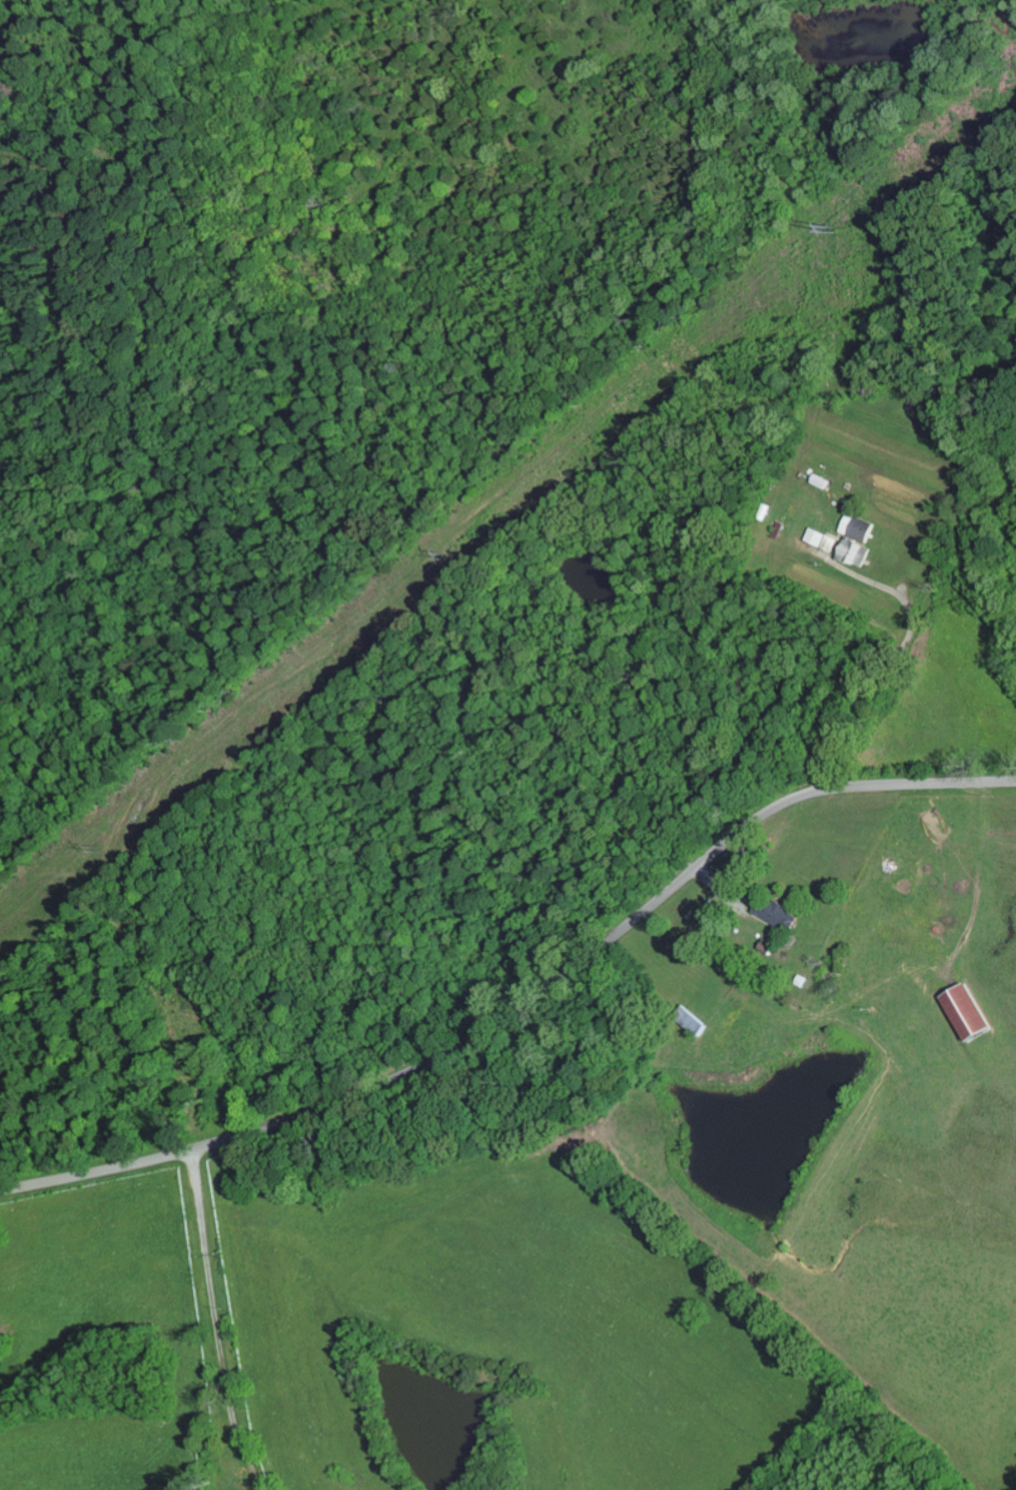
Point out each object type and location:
building: (861, 538)
building: (780, 914)
building: (770, 947)
road: (522, 998)
building: (972, 1014)
building: (702, 1025)
road: (246, 1320)

